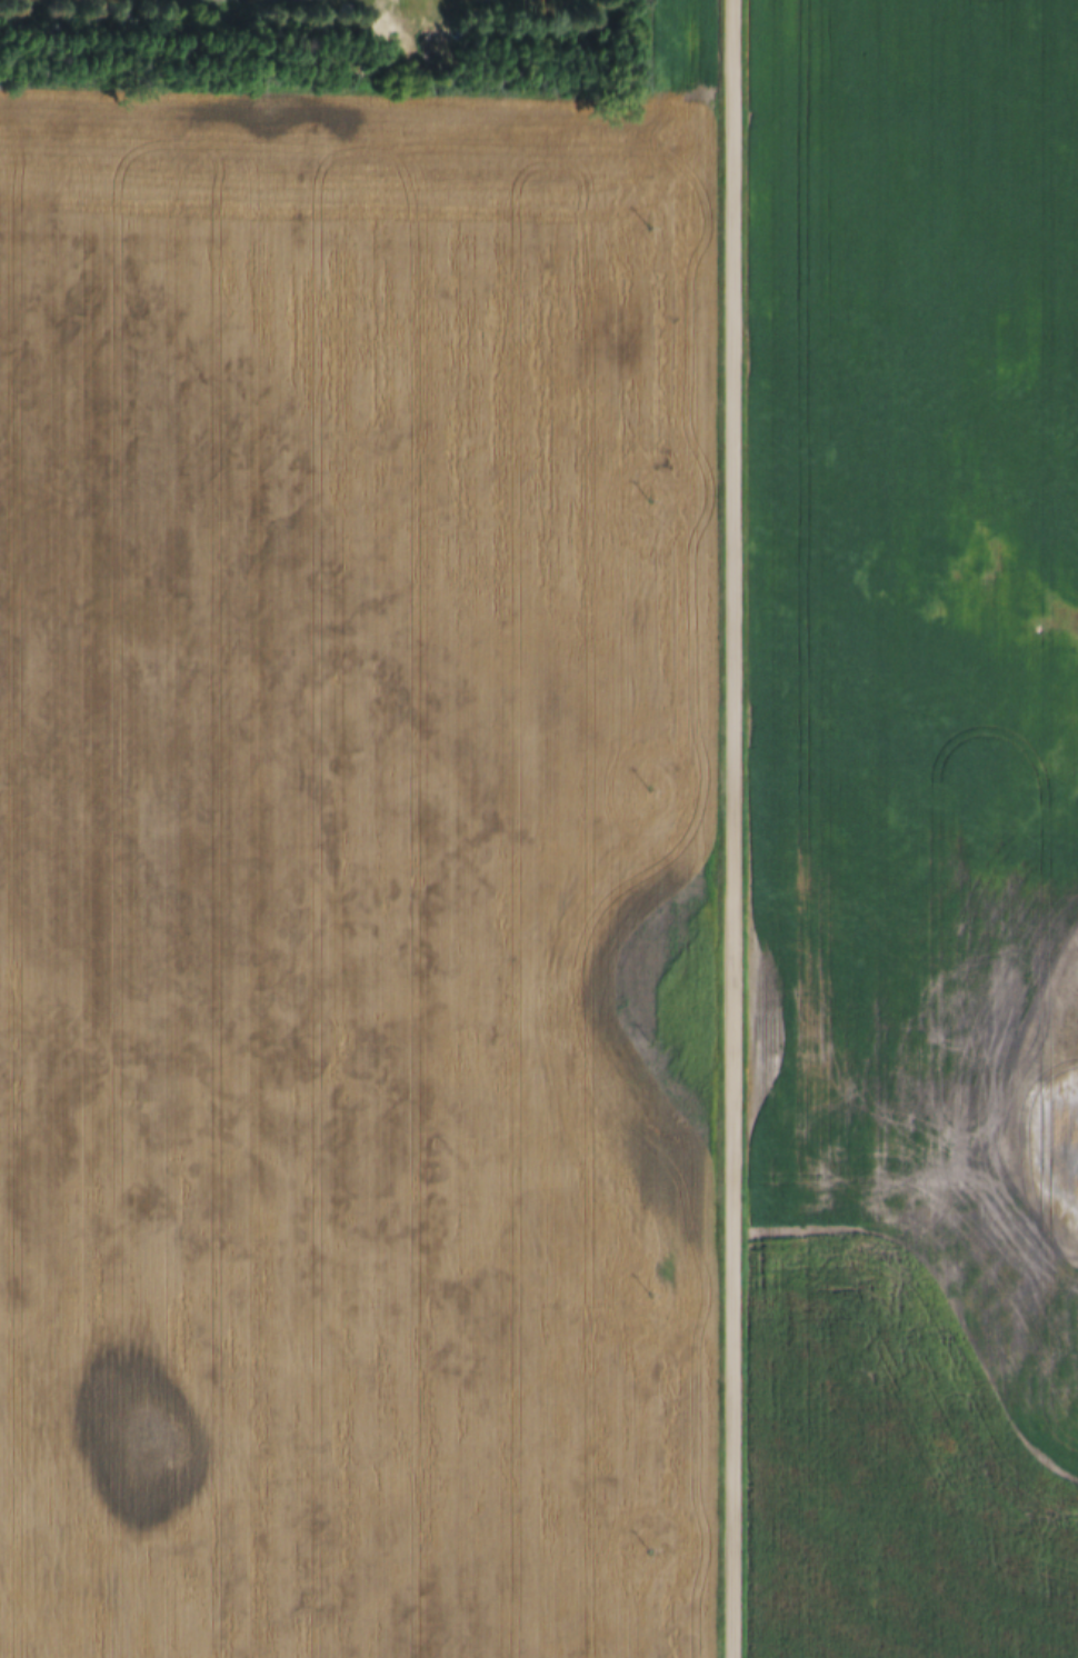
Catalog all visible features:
road: (727, 829)

